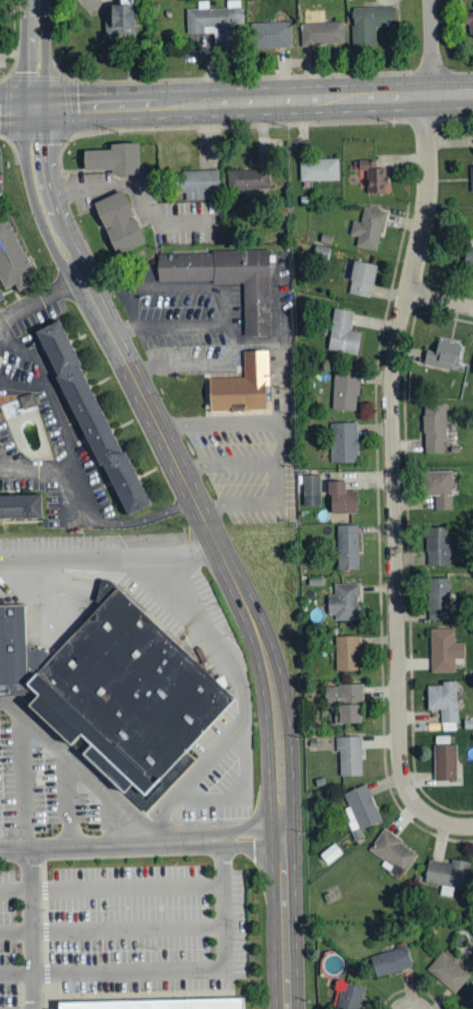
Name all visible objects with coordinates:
building: (119, 21)
building: (370, 23)
building: (469, 23)
building: (325, 33)
building: (271, 35)
road: (432, 48)
road: (36, 55)
road: (254, 102)
road: (18, 110)
traffic signals: (36, 110)
building: (113, 160)
building: (319, 170)
building: (370, 176)
building: (471, 179)
building: (248, 180)
building: (197, 185)
road: (128, 191)
building: (117, 223)
building: (368, 229)
building: (12, 257)
building: (468, 260)
building: (359, 278)
building: (230, 279)
road: (41, 302)
road: (441, 302)
building: (342, 334)
building: (443, 356)
road: (152, 366)
building: (472, 372)
road: (24, 384)
building: (244, 385)
building: (345, 390)
road: (54, 398)
building: (26, 401)
building: (90, 417)
building: (434, 429)
building: (344, 443)
road: (177, 468)
road: (394, 481)
building: (311, 490)
building: (440, 490)
building: (341, 499)
building: (20, 504)
road: (92, 513)
road: (109, 547)
building: (439, 547)
building: (348, 548)
building: (438, 597)
building: (344, 602)
building: (444, 651)
building: (347, 654)
road: (244, 691)
building: (116, 692)
building: (344, 703)
building: (444, 704)
building: (349, 755)
building: (445, 762)
road: (79, 764)
road: (24, 777)
parking lot: (50, 789)
road: (246, 791)
road: (70, 798)
building: (360, 808)
road: (156, 840)
road: (15, 845)
building: (393, 851)
building: (391, 868)
building: (446, 874)
road: (111, 885)
road: (284, 922)
parking lot: (124, 925)
road: (34, 927)
road: (111, 928)
building: (391, 961)
road: (197, 970)
building: (448, 972)
road: (18, 973)
building: (347, 996)
building: (154, 1003)

